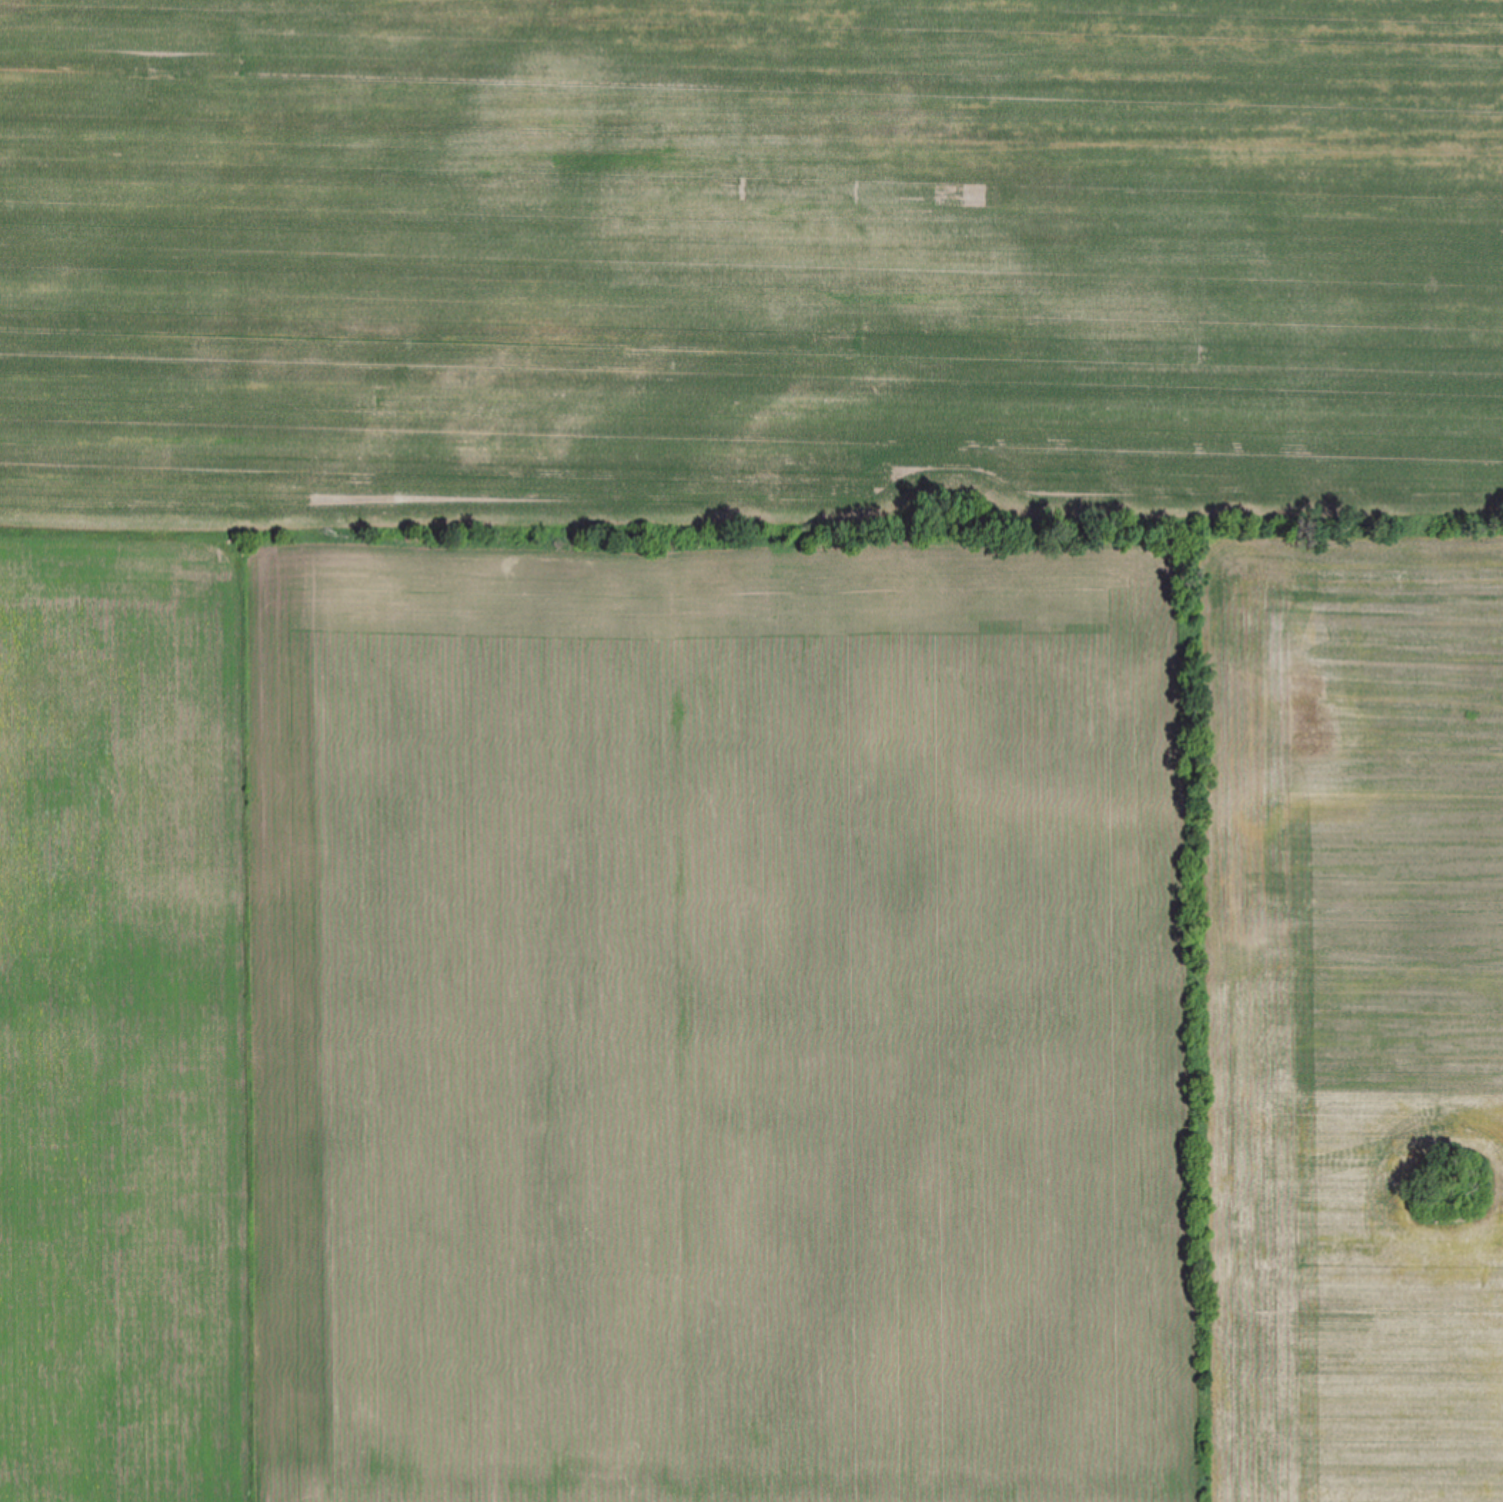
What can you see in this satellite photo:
crop: (833, 716)

